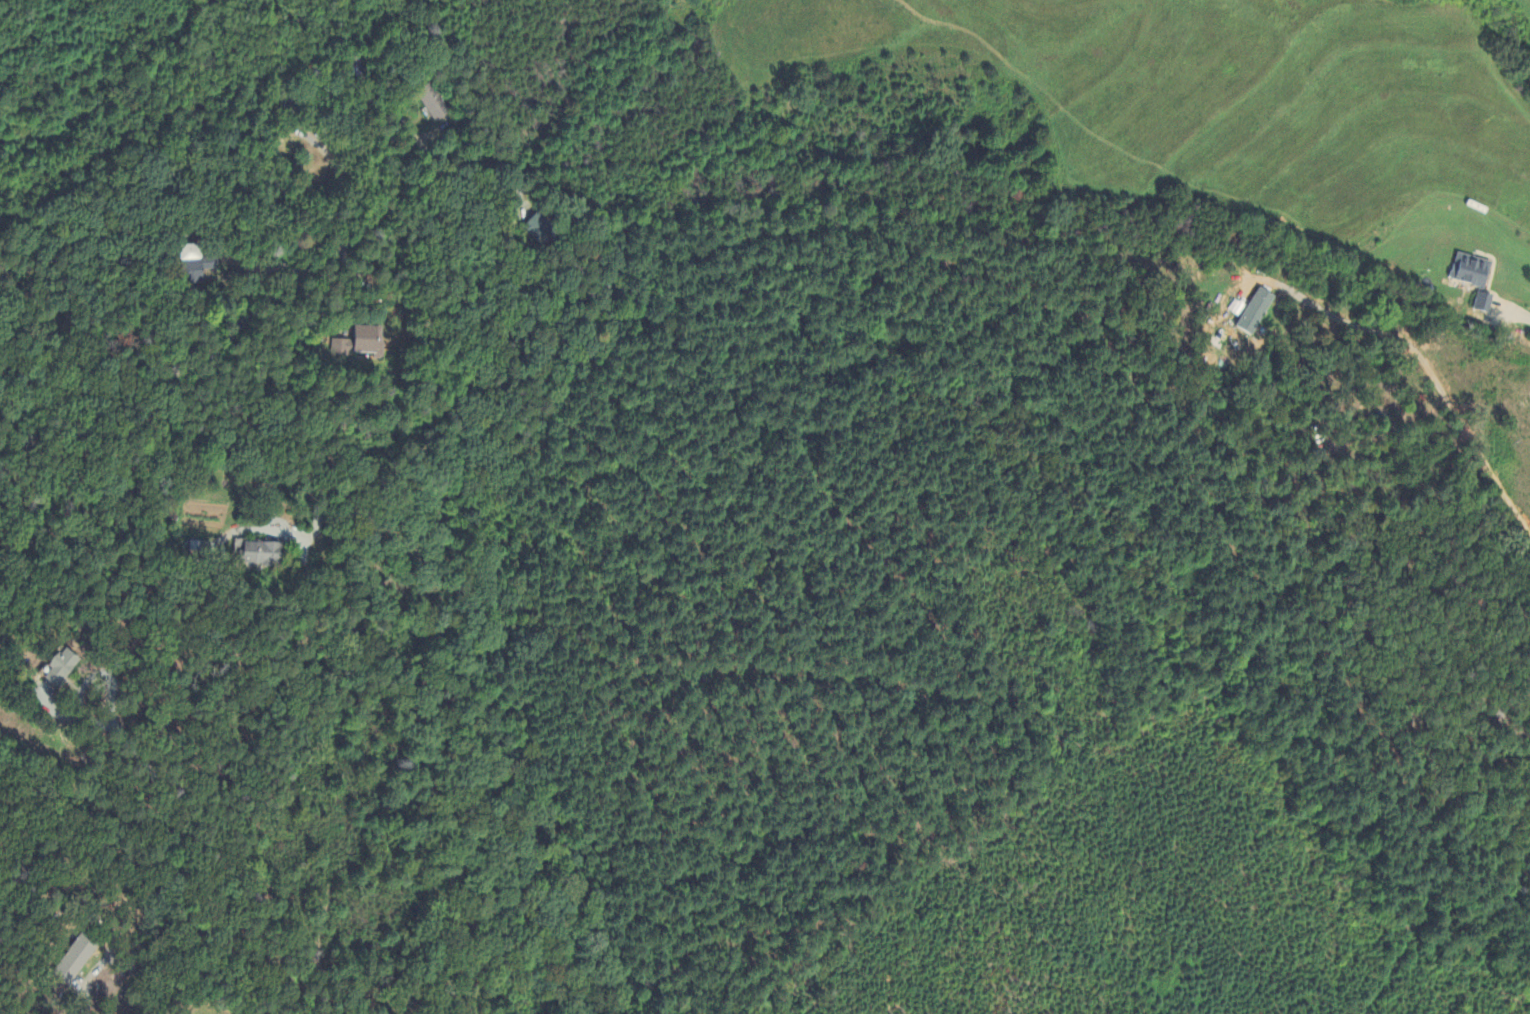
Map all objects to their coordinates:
building: (432, 104)
building: (537, 229)
road: (258, 264)
building: (196, 271)
building: (1467, 271)
road: (276, 285)
building: (1480, 304)
building: (1252, 313)
road: (1525, 316)
building: (362, 343)
road: (299, 445)
road: (1362, 465)
building: (263, 554)
building: (63, 668)
road: (78, 690)
road: (176, 870)
building: (78, 958)
road: (98, 967)

